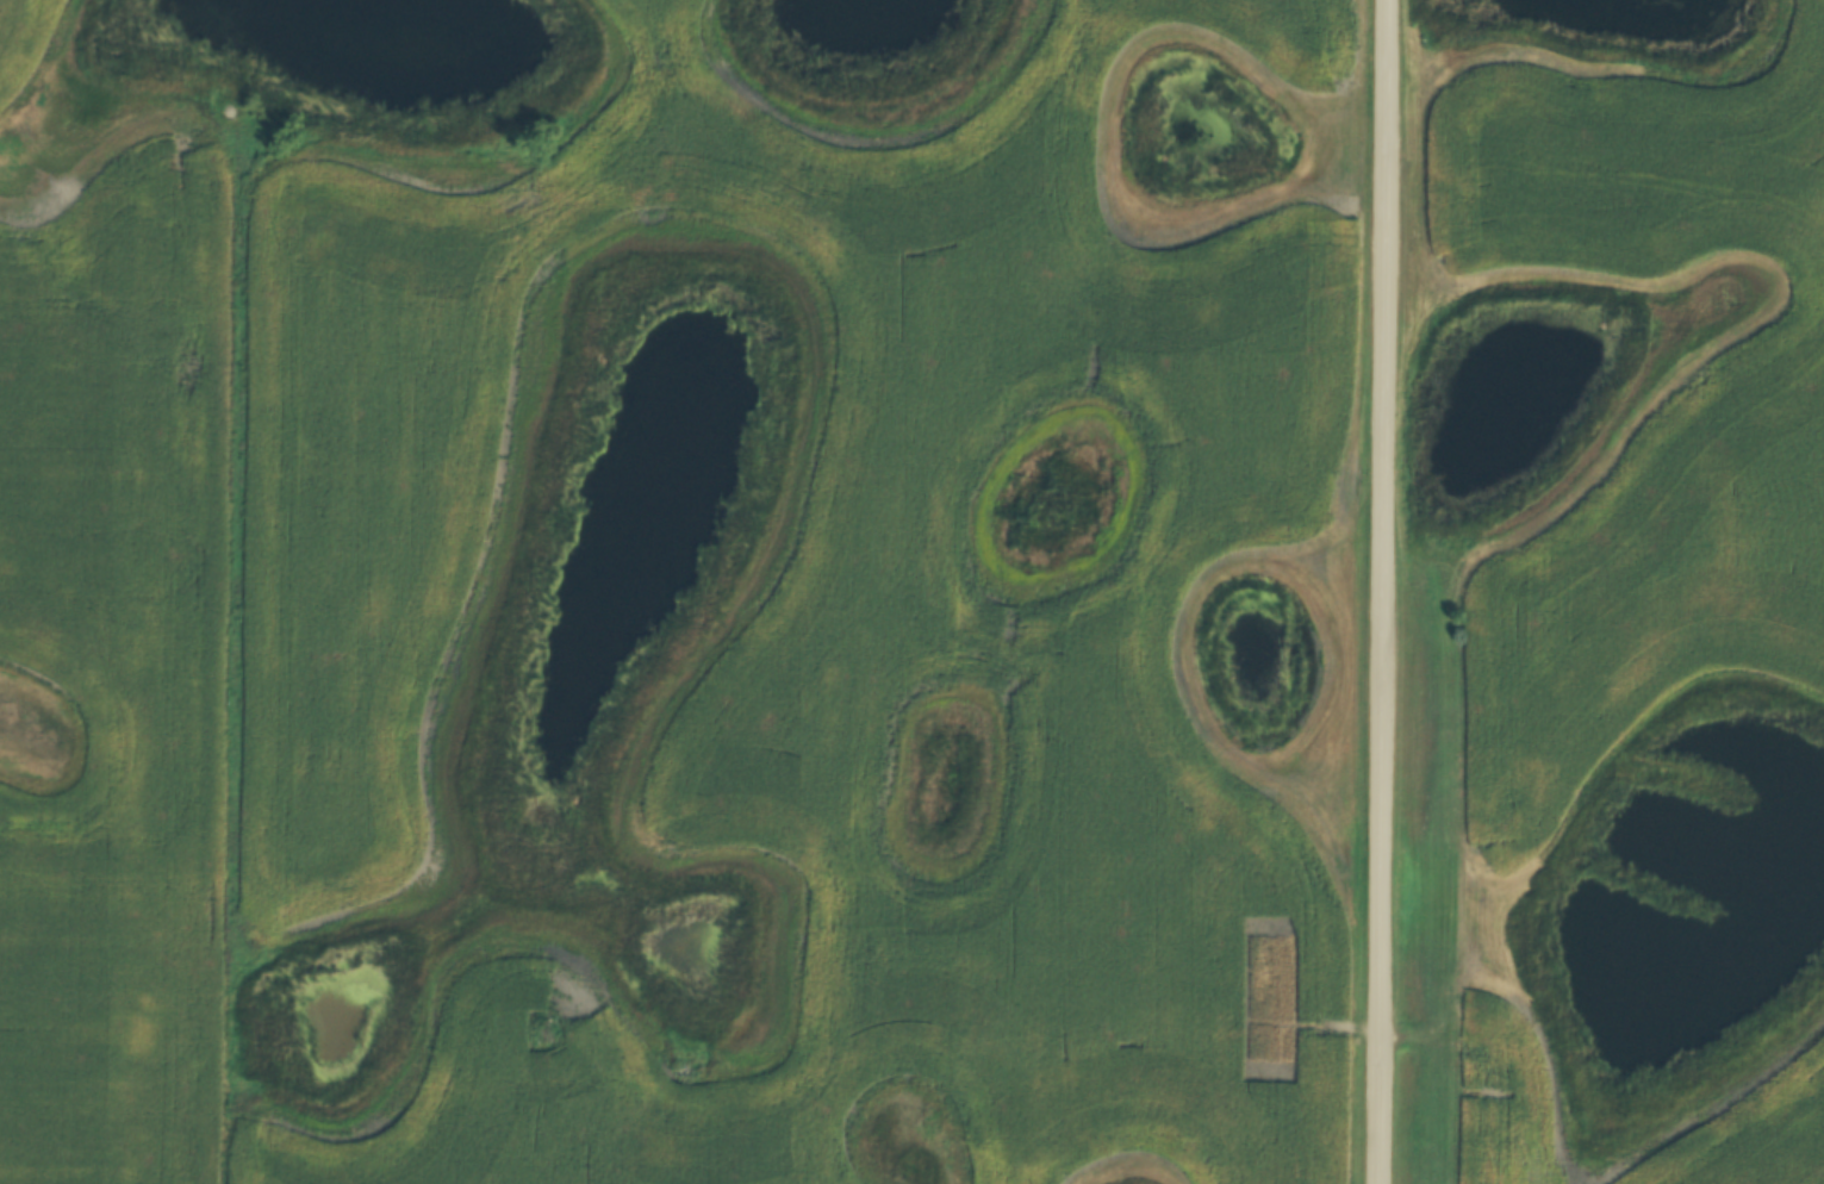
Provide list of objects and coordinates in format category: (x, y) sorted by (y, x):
road: (1392, 591)

